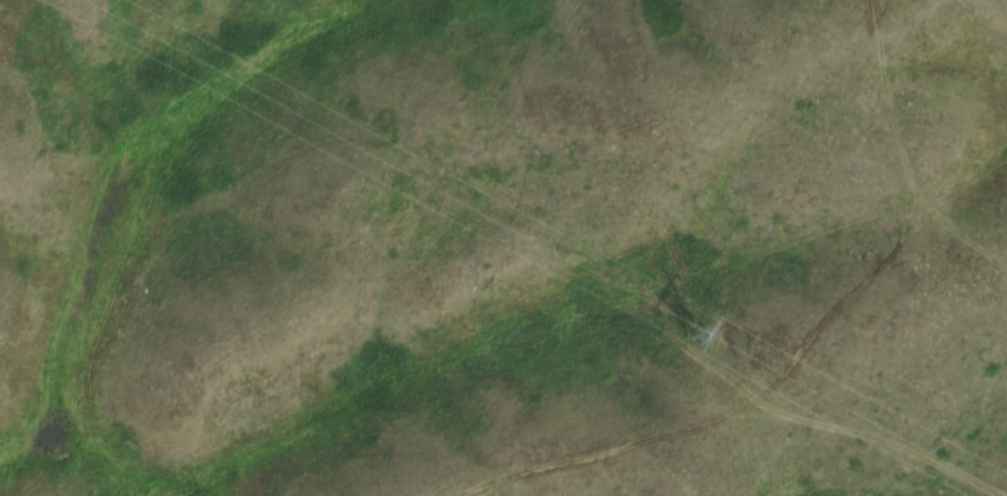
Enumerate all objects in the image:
power tower: (696, 332)
road: (807, 345)

